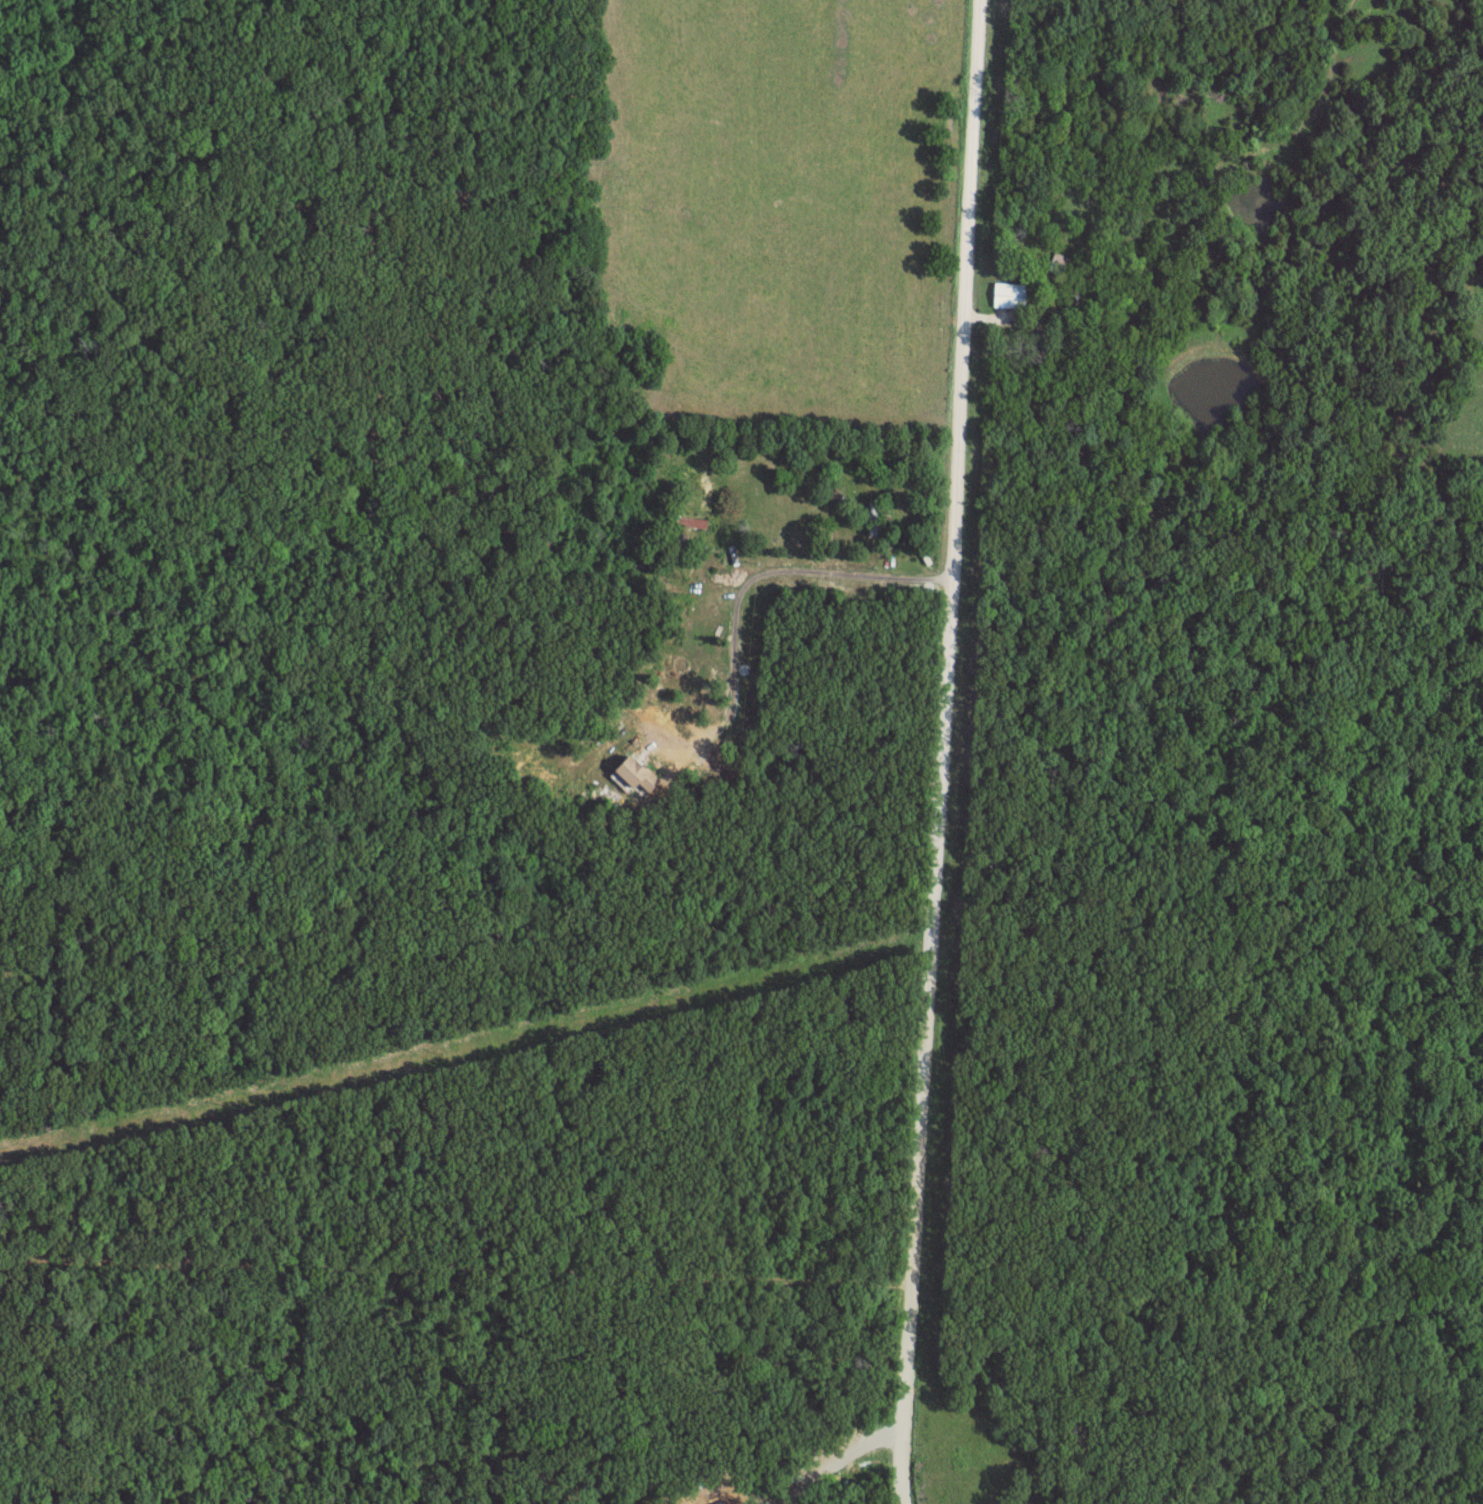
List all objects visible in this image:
building: (1059, 264)
building: (1010, 295)
building: (1038, 346)
building: (870, 516)
road: (849, 571)
road: (943, 752)
building: (638, 771)
road: (456, 1270)

